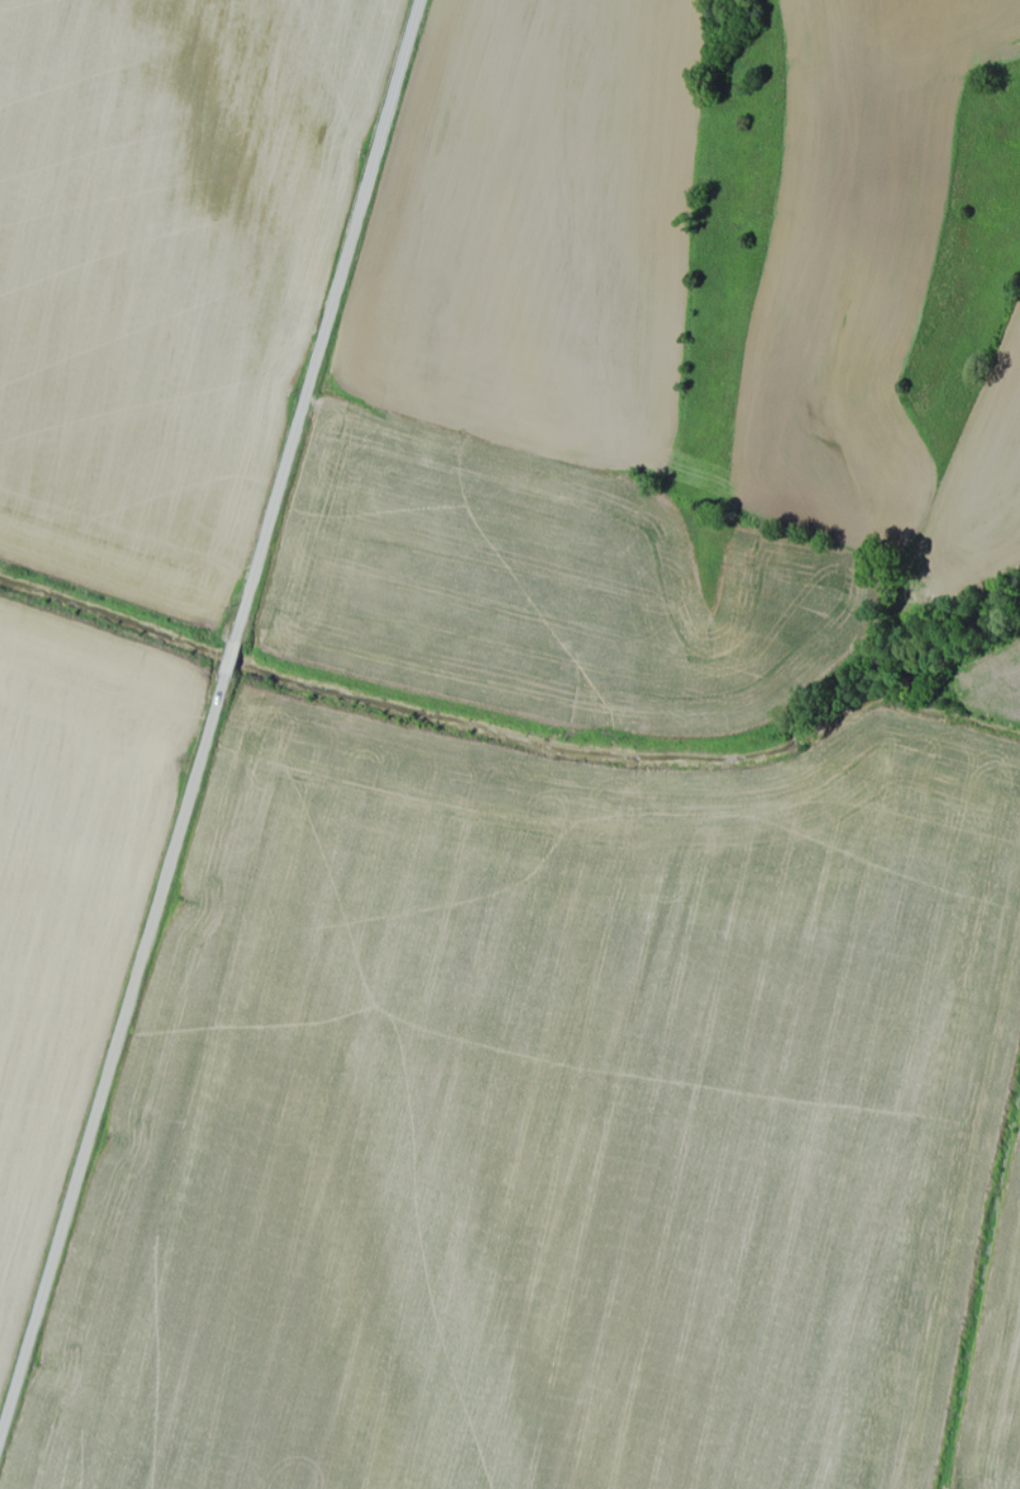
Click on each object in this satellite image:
road: (213, 723)

